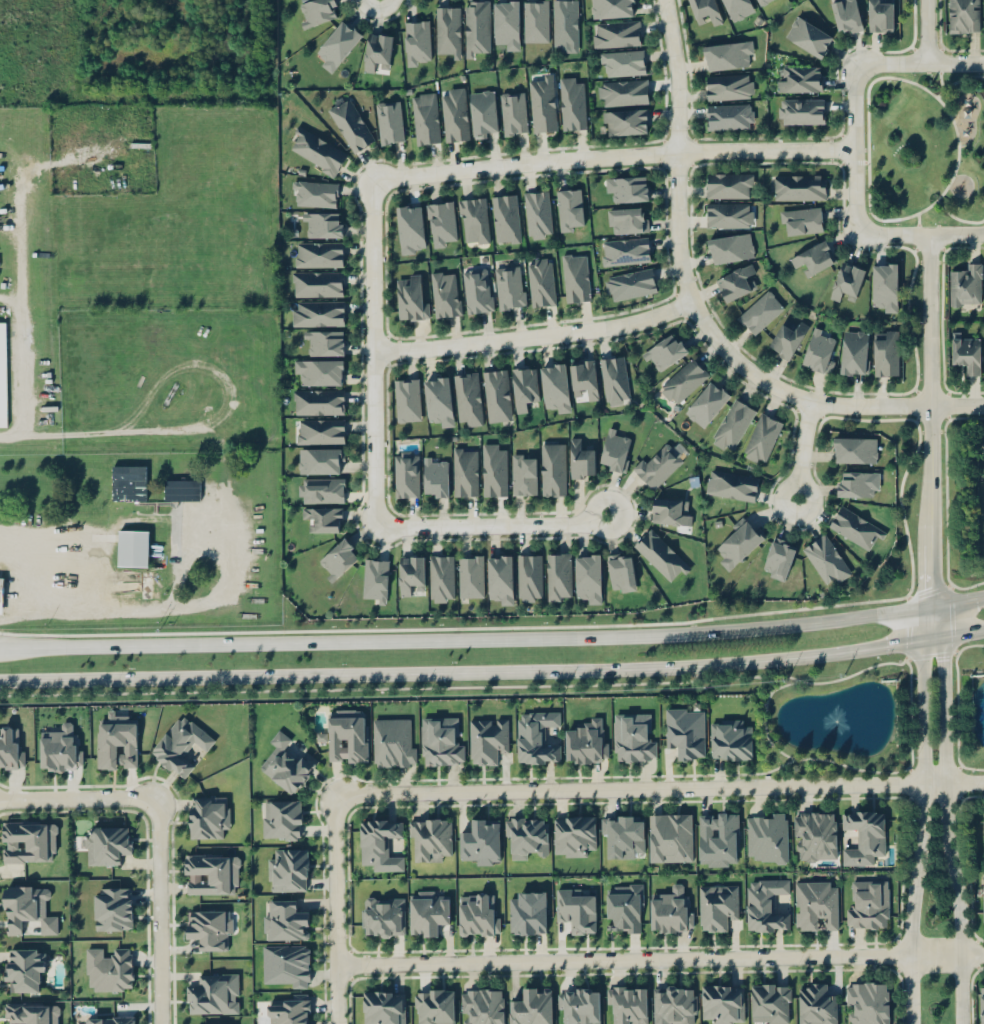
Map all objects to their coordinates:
building: (759, 1)
building: (738, 7)
building: (611, 8)
building: (706, 9)
building: (316, 11)
building: (846, 15)
building: (880, 15)
building: (963, 15)
building: (535, 20)
building: (507, 23)
building: (565, 25)
building: (476, 28)
building: (448, 31)
road: (927, 31)
building: (616, 33)
building: (809, 36)
building: (417, 42)
building: (337, 44)
building: (377, 50)
building: (728, 54)
building: (622, 62)
road: (956, 63)
road: (939, 76)
building: (801, 78)
road: (958, 80)
building: (729, 86)
building: (623, 92)
building: (542, 102)
building: (572, 103)
building: (800, 110)
building: (484, 112)
building: (513, 112)
building: (454, 114)
building: (729, 116)
building: (425, 117)
building: (389, 121)
building: (625, 121)
building: (350, 122)
road: (853, 149)
building: (317, 150)
road: (611, 156)
road: (861, 161)
building: (728, 185)
building: (799, 186)
building: (629, 189)
building: (314, 193)
road: (938, 197)
building: (569, 208)
building: (537, 213)
building: (729, 214)
road: (957, 217)
building: (506, 218)
building: (474, 219)
building: (627, 219)
building: (801, 219)
road: (918, 222)
building: (442, 223)
building: (323, 224)
building: (410, 228)
road: (957, 233)
building: (730, 247)
building: (625, 251)
building: (319, 253)
building: (813, 257)
building: (575, 277)
building: (847, 279)
building: (541, 281)
building: (737, 281)
building: (317, 283)
building: (630, 284)
building: (965, 284)
building: (509, 286)
building: (884, 286)
building: (478, 290)
building: (445, 293)
building: (410, 296)
building: (760, 311)
building: (317, 313)
road: (698, 314)
road: (535, 336)
building: (787, 338)
building: (324, 342)
building: (819, 349)
building: (664, 351)
building: (854, 352)
building: (885, 352)
building: (966, 352)
building: (319, 370)
building: (3, 373)
building: (584, 377)
building: (614, 379)
building: (683, 380)
building: (524, 386)
building: (555, 386)
building: (497, 394)
building: (467, 398)
building: (407, 399)
building: (439, 399)
building: (318, 401)
building: (706, 403)
road: (929, 419)
building: (732, 424)
building: (319, 431)
road: (15, 434)
building: (761, 437)
building: (615, 449)
building: (855, 449)
building: (982, 449)
road: (803, 450)
building: (581, 459)
building: (320, 460)
building: (661, 462)
building: (552, 468)
road: (374, 469)
building: (494, 469)
building: (407, 472)
building: (465, 472)
building: (524, 473)
building: (435, 476)
building: (129, 482)
building: (855, 484)
building: (732, 485)
building: (182, 489)
building: (321, 489)
road: (228, 493)
building: (671, 511)
building: (322, 519)
building: (855, 527)
building: (739, 542)
building: (133, 547)
building: (661, 554)
building: (779, 558)
building: (337, 559)
building: (826, 560)
building: (621, 571)
building: (410, 572)
building: (470, 575)
building: (529, 576)
building: (558, 576)
building: (588, 577)
building: (441, 578)
building: (500, 578)
building: (375, 579)
building: (1, 594)
road: (72, 606)
road: (493, 641)
road: (750, 661)
road: (257, 676)
fountain: (831, 720)
building: (685, 731)
building: (346, 734)
building: (537, 736)
building: (632, 737)
building: (487, 739)
building: (730, 739)
building: (117, 741)
building: (393, 741)
building: (440, 741)
building: (586, 741)
building: (181, 744)
building: (10, 749)
building: (60, 749)
building: (287, 763)
road: (658, 789)
road: (75, 797)
road: (947, 814)
building: (207, 815)
road: (922, 815)
building: (282, 819)
building: (983, 830)
building: (574, 834)
building: (815, 834)
building: (623, 835)
building: (863, 835)
building: (430, 836)
building: (526, 836)
building: (670, 836)
building: (767, 836)
building: (718, 838)
building: (29, 840)
building: (480, 841)
building: (381, 843)
building: (106, 844)
building: (288, 870)
building: (211, 873)
building: (979, 900)
building: (766, 904)
building: (816, 904)
building: (869, 904)
building: (717, 905)
building: (983, 907)
building: (113, 908)
building: (625, 908)
building: (26, 909)
building: (575, 909)
road: (335, 910)
building: (671, 910)
building: (428, 912)
road: (153, 913)
building: (477, 913)
building: (528, 913)
building: (383, 916)
building: (285, 920)
building: (210, 929)
road: (660, 959)
building: (286, 965)
building: (25, 968)
building: (108, 968)
building: (213, 993)
building: (627, 1002)
building: (722, 1002)
building: (867, 1002)
building: (770, 1003)
building: (981, 1003)
building: (578, 1004)
building: (675, 1004)
building: (816, 1004)
building: (531, 1005)
building: (384, 1006)
building: (434, 1006)
building: (482, 1006)
building: (289, 1009)
building: (31, 1013)
building: (110, 1020)

